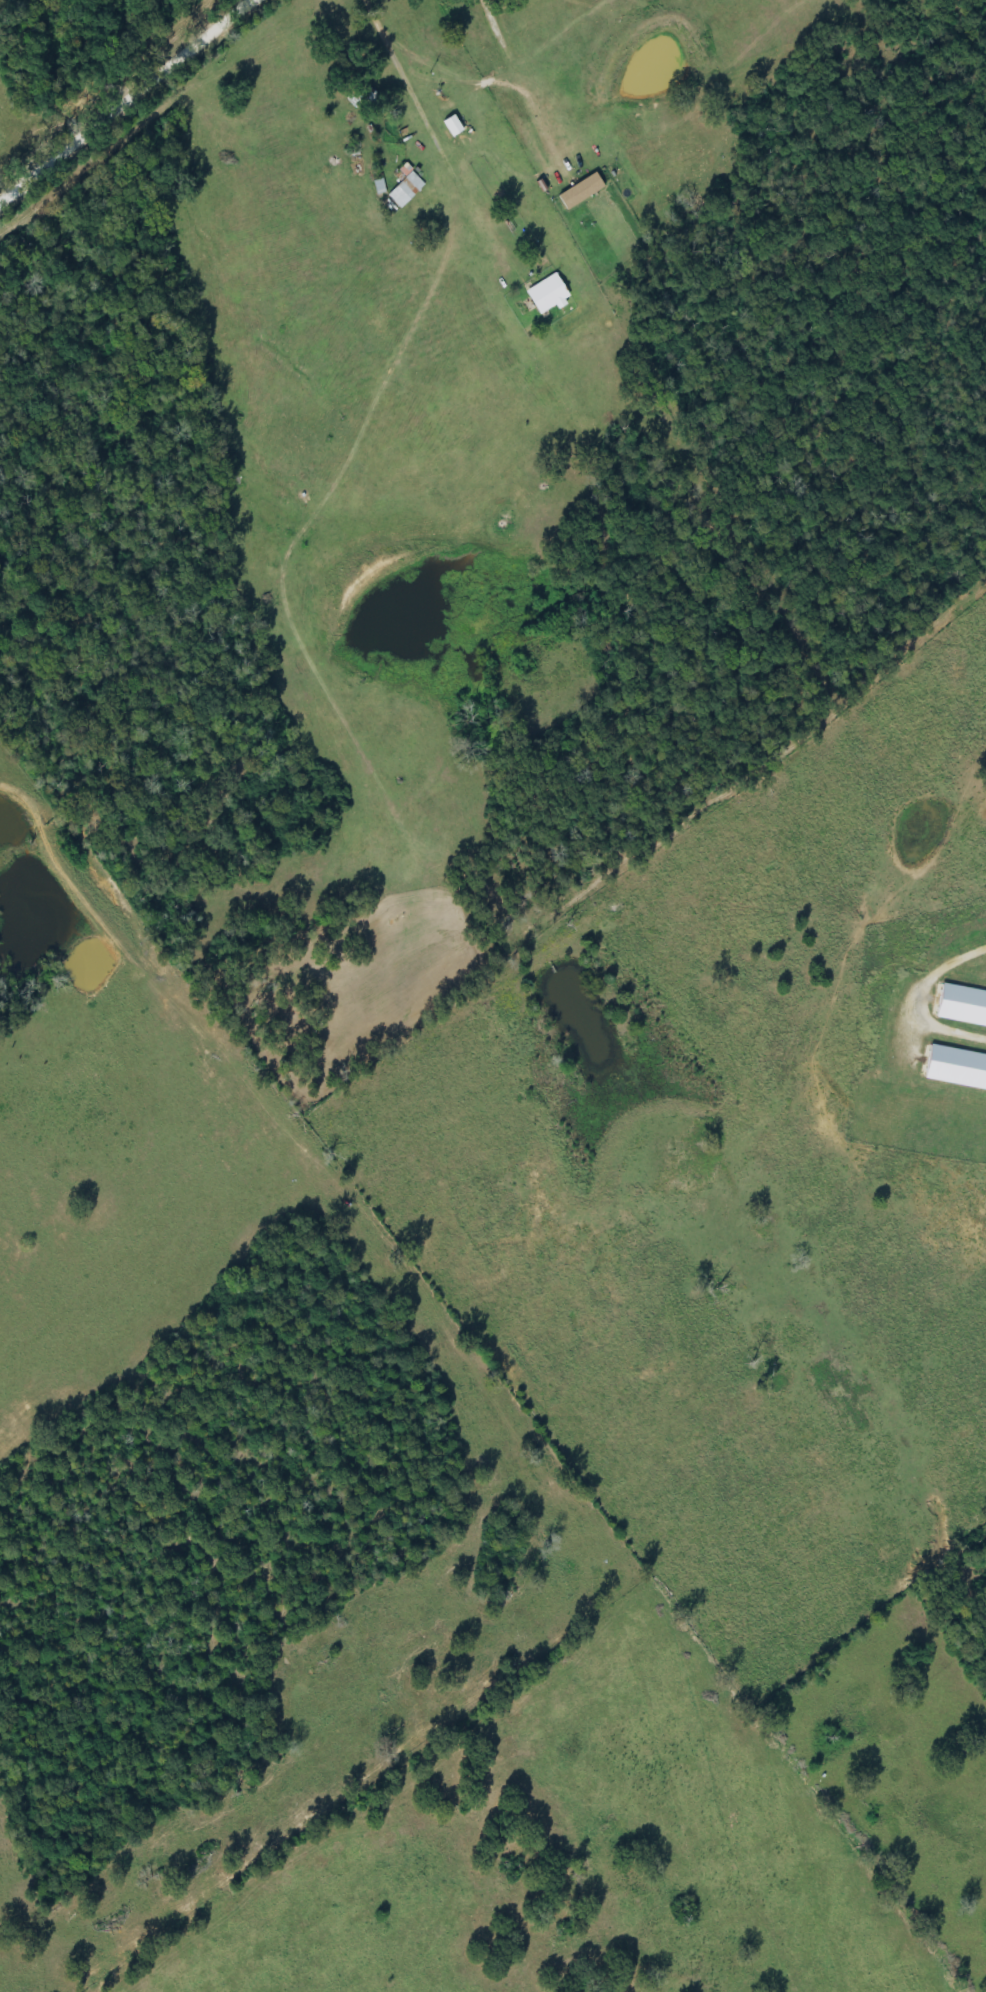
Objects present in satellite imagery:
road: (126, 100)
building: (456, 126)
building: (408, 190)
building: (584, 191)
building: (551, 295)
building: (964, 1007)
building: (958, 1070)

